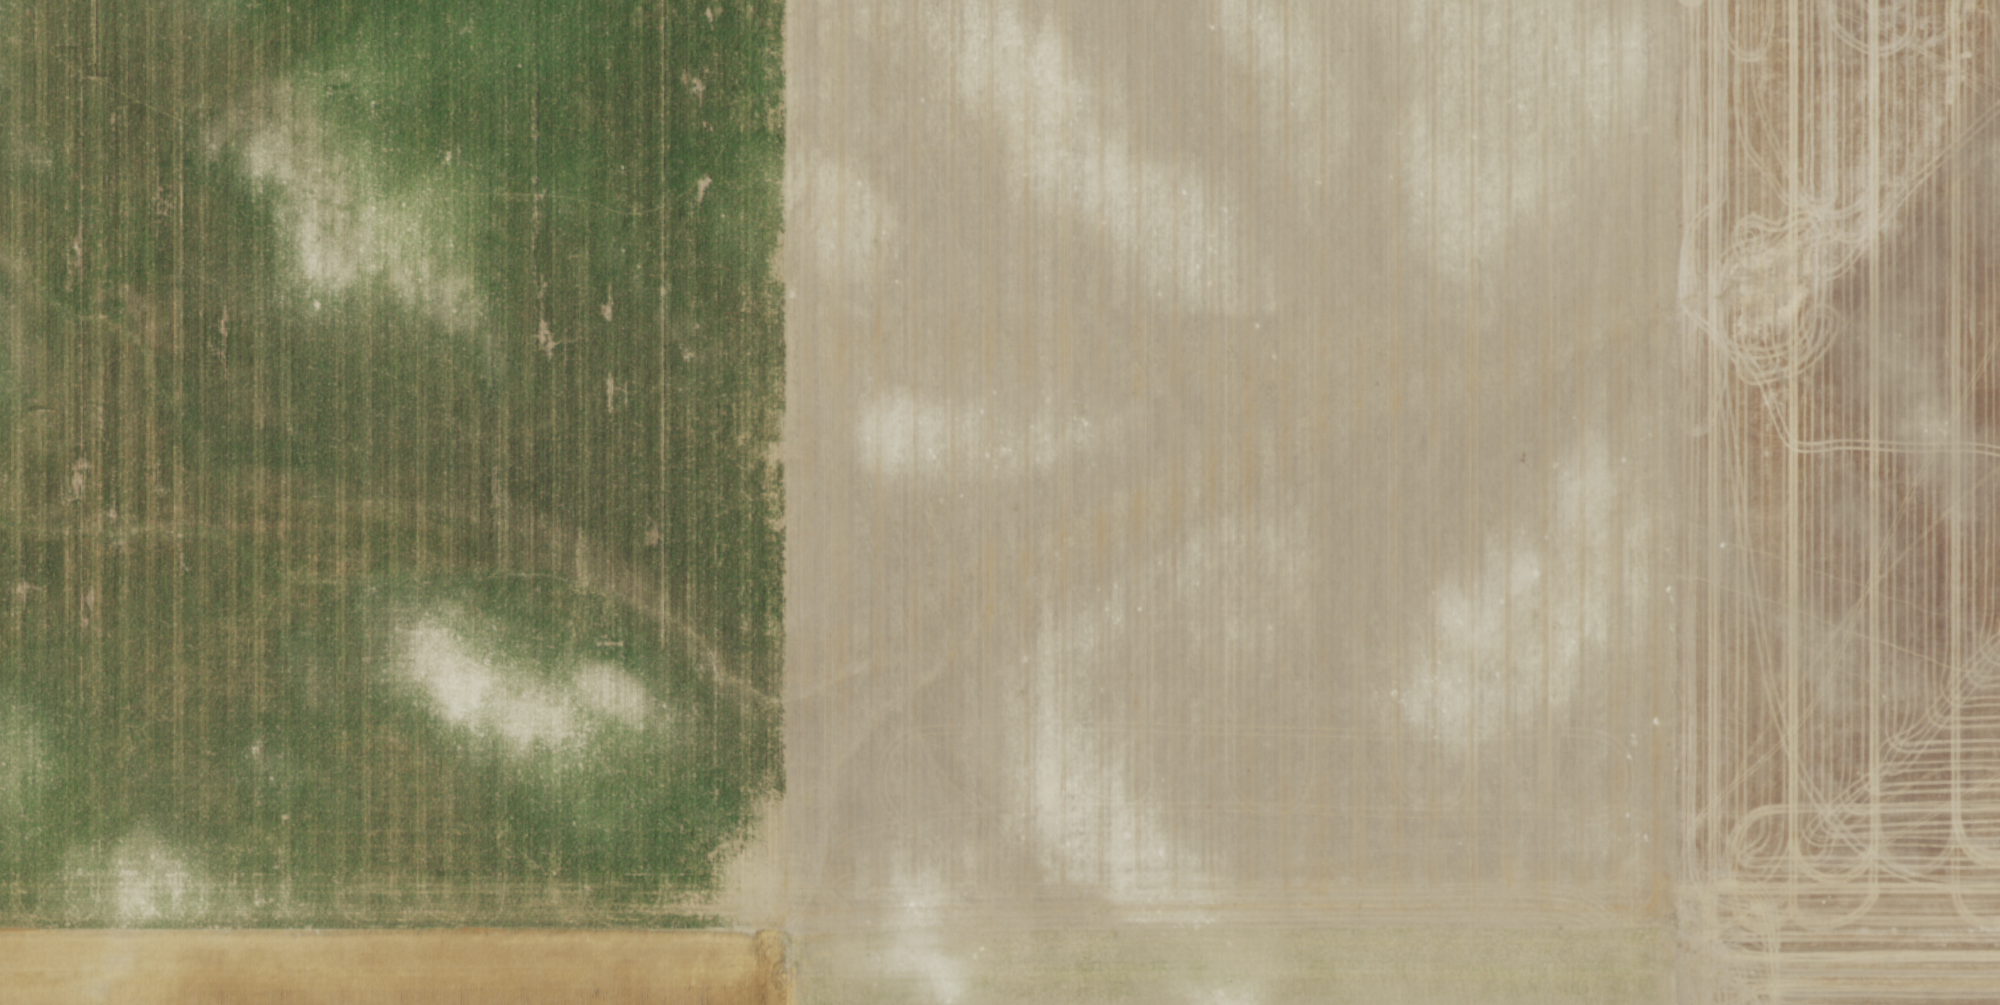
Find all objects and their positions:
crop: (1000, 502)

